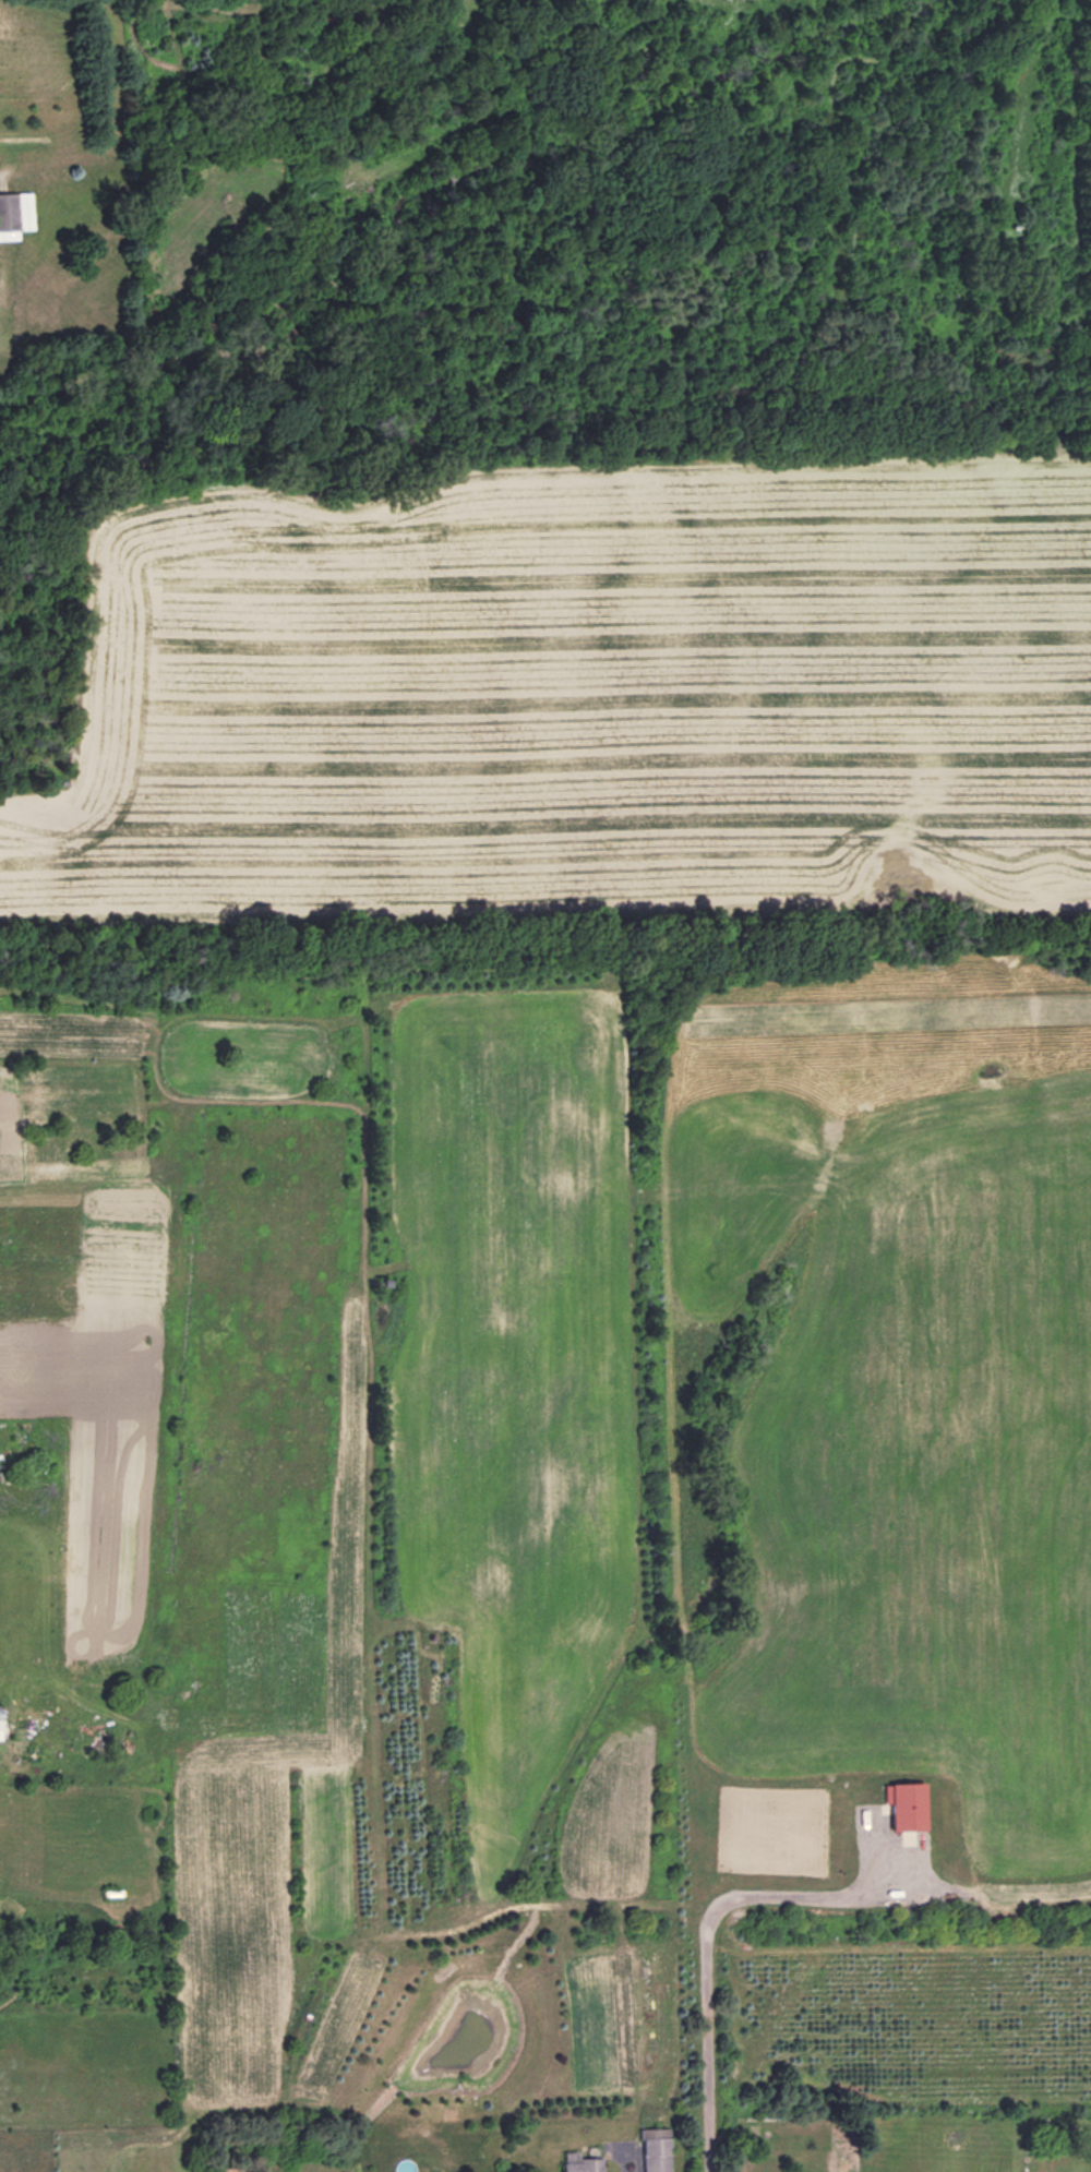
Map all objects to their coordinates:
building: (370, 1)
building: (15, 214)
building: (904, 1805)
road: (704, 1939)
building: (655, 2149)
building: (578, 2162)
building: (229, 2170)

